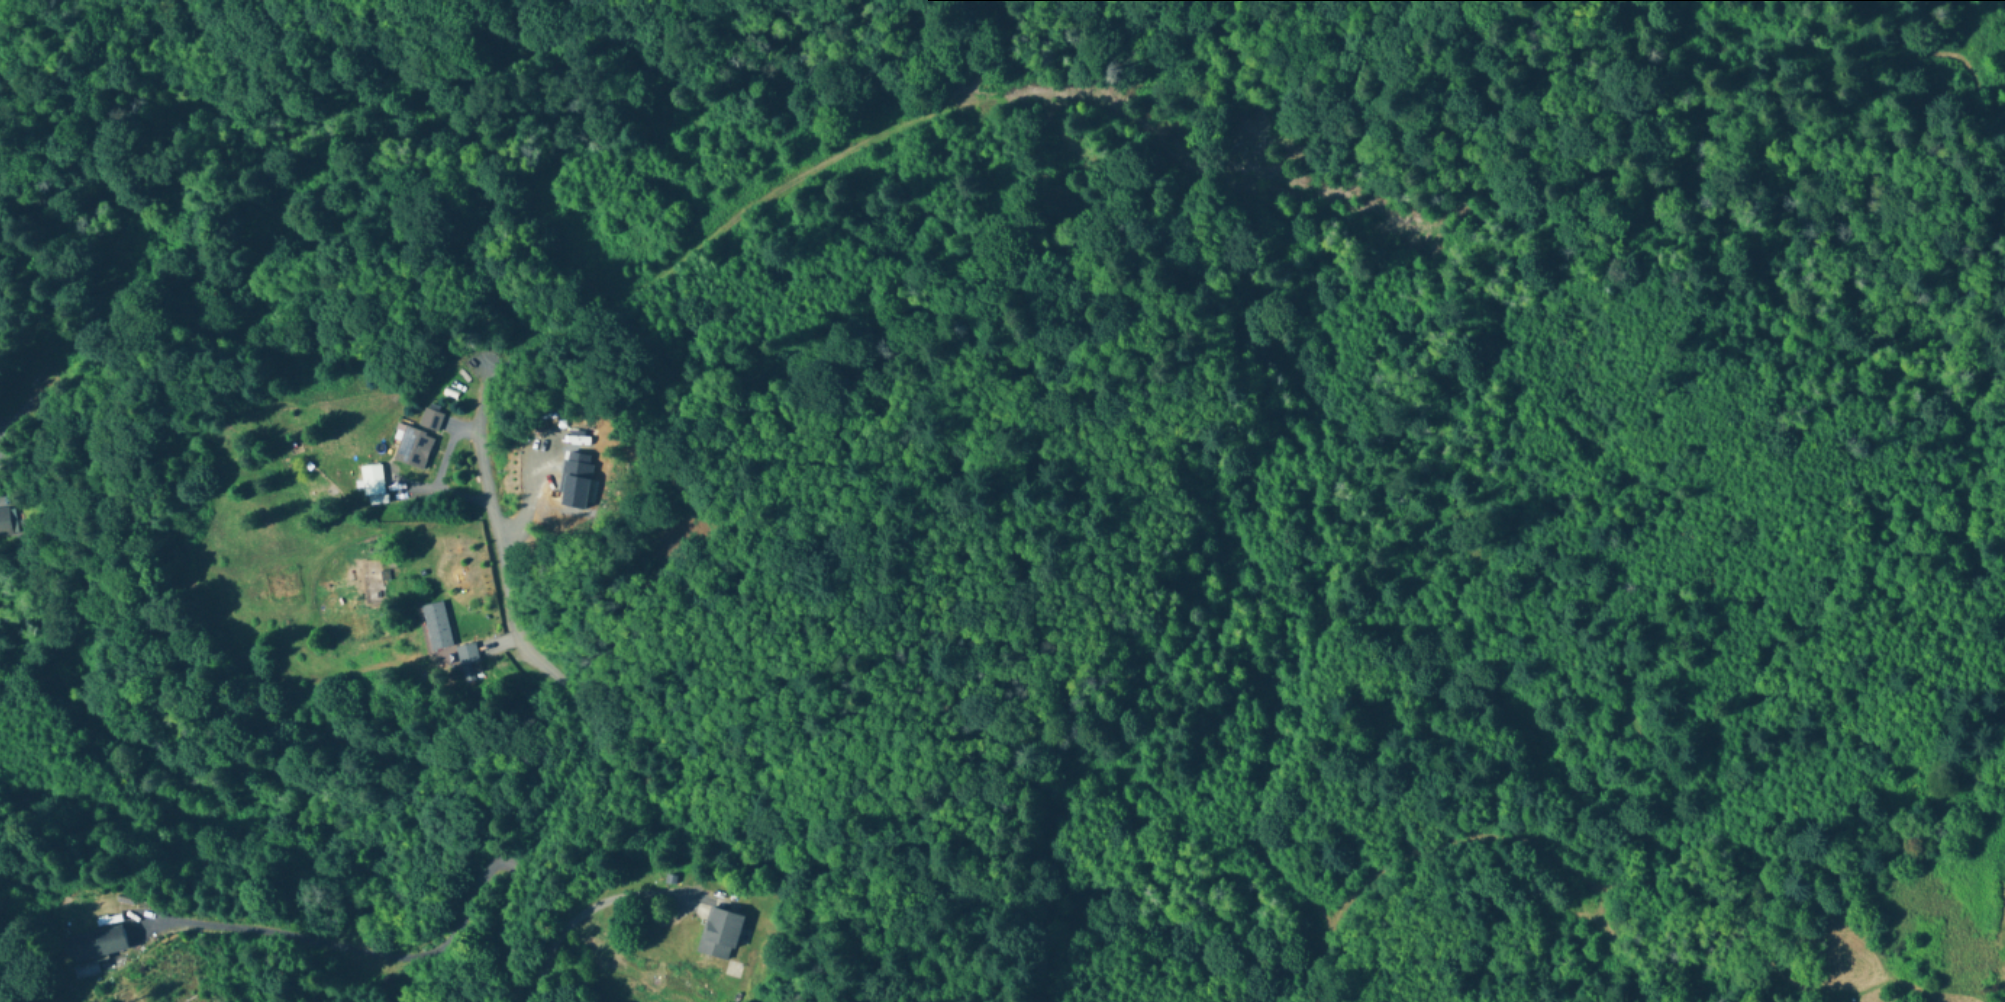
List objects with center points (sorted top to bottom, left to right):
building: (430, 417)
building: (413, 445)
building: (373, 485)
building: (5, 524)
building: (437, 625)
building: (468, 654)
road: (583, 718)
road: (583, 915)
building: (720, 934)
building: (96, 944)
road: (343, 946)

